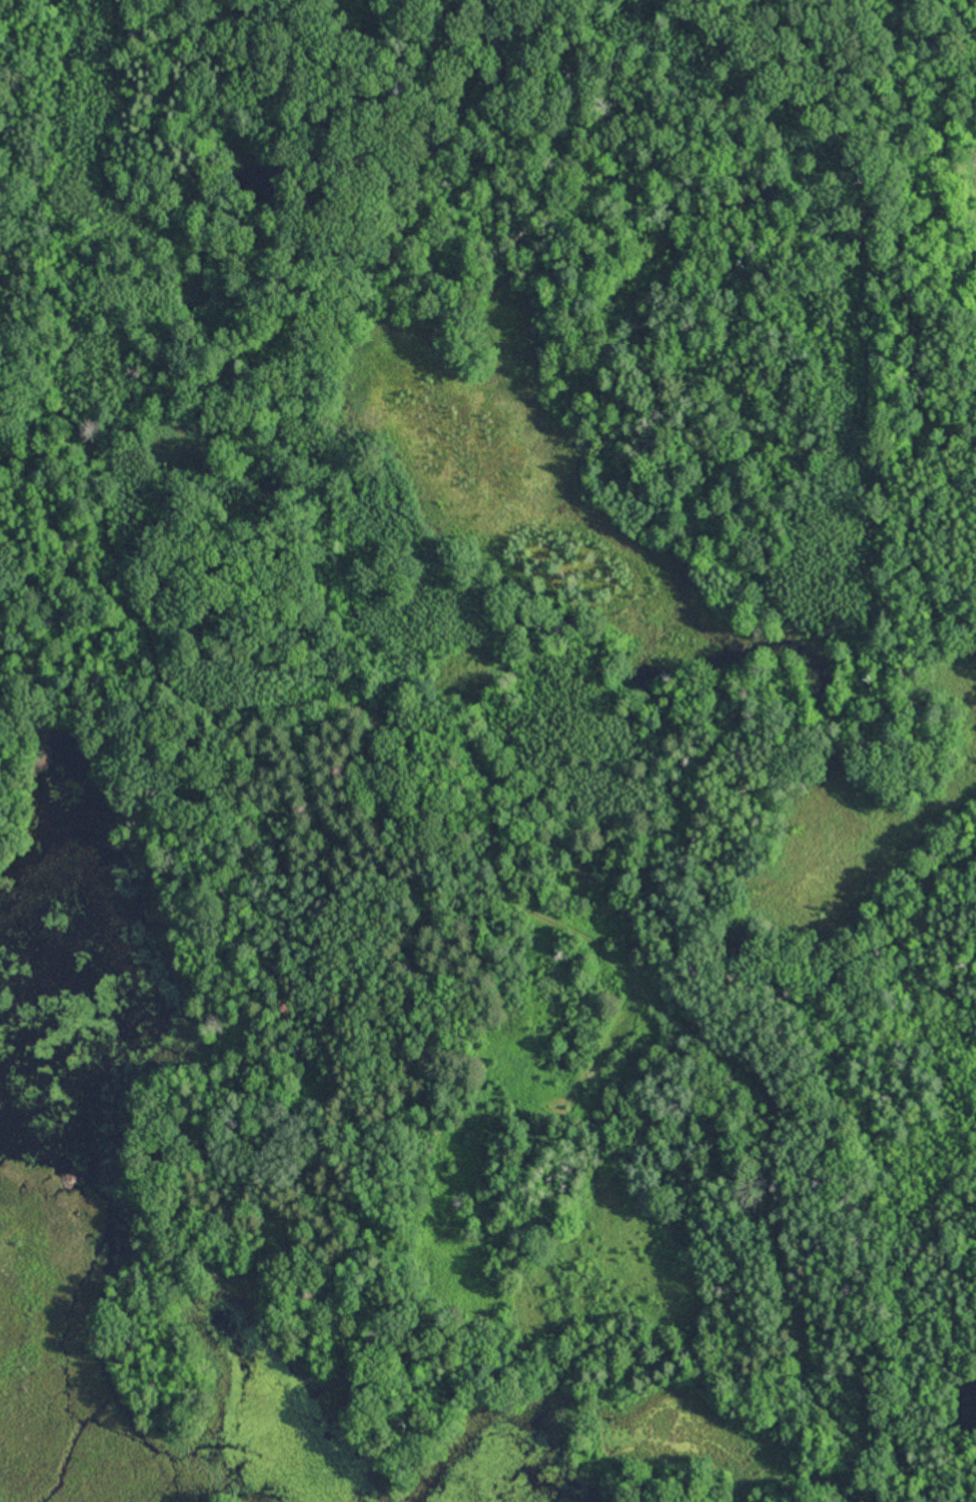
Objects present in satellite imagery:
road: (399, 1243)

